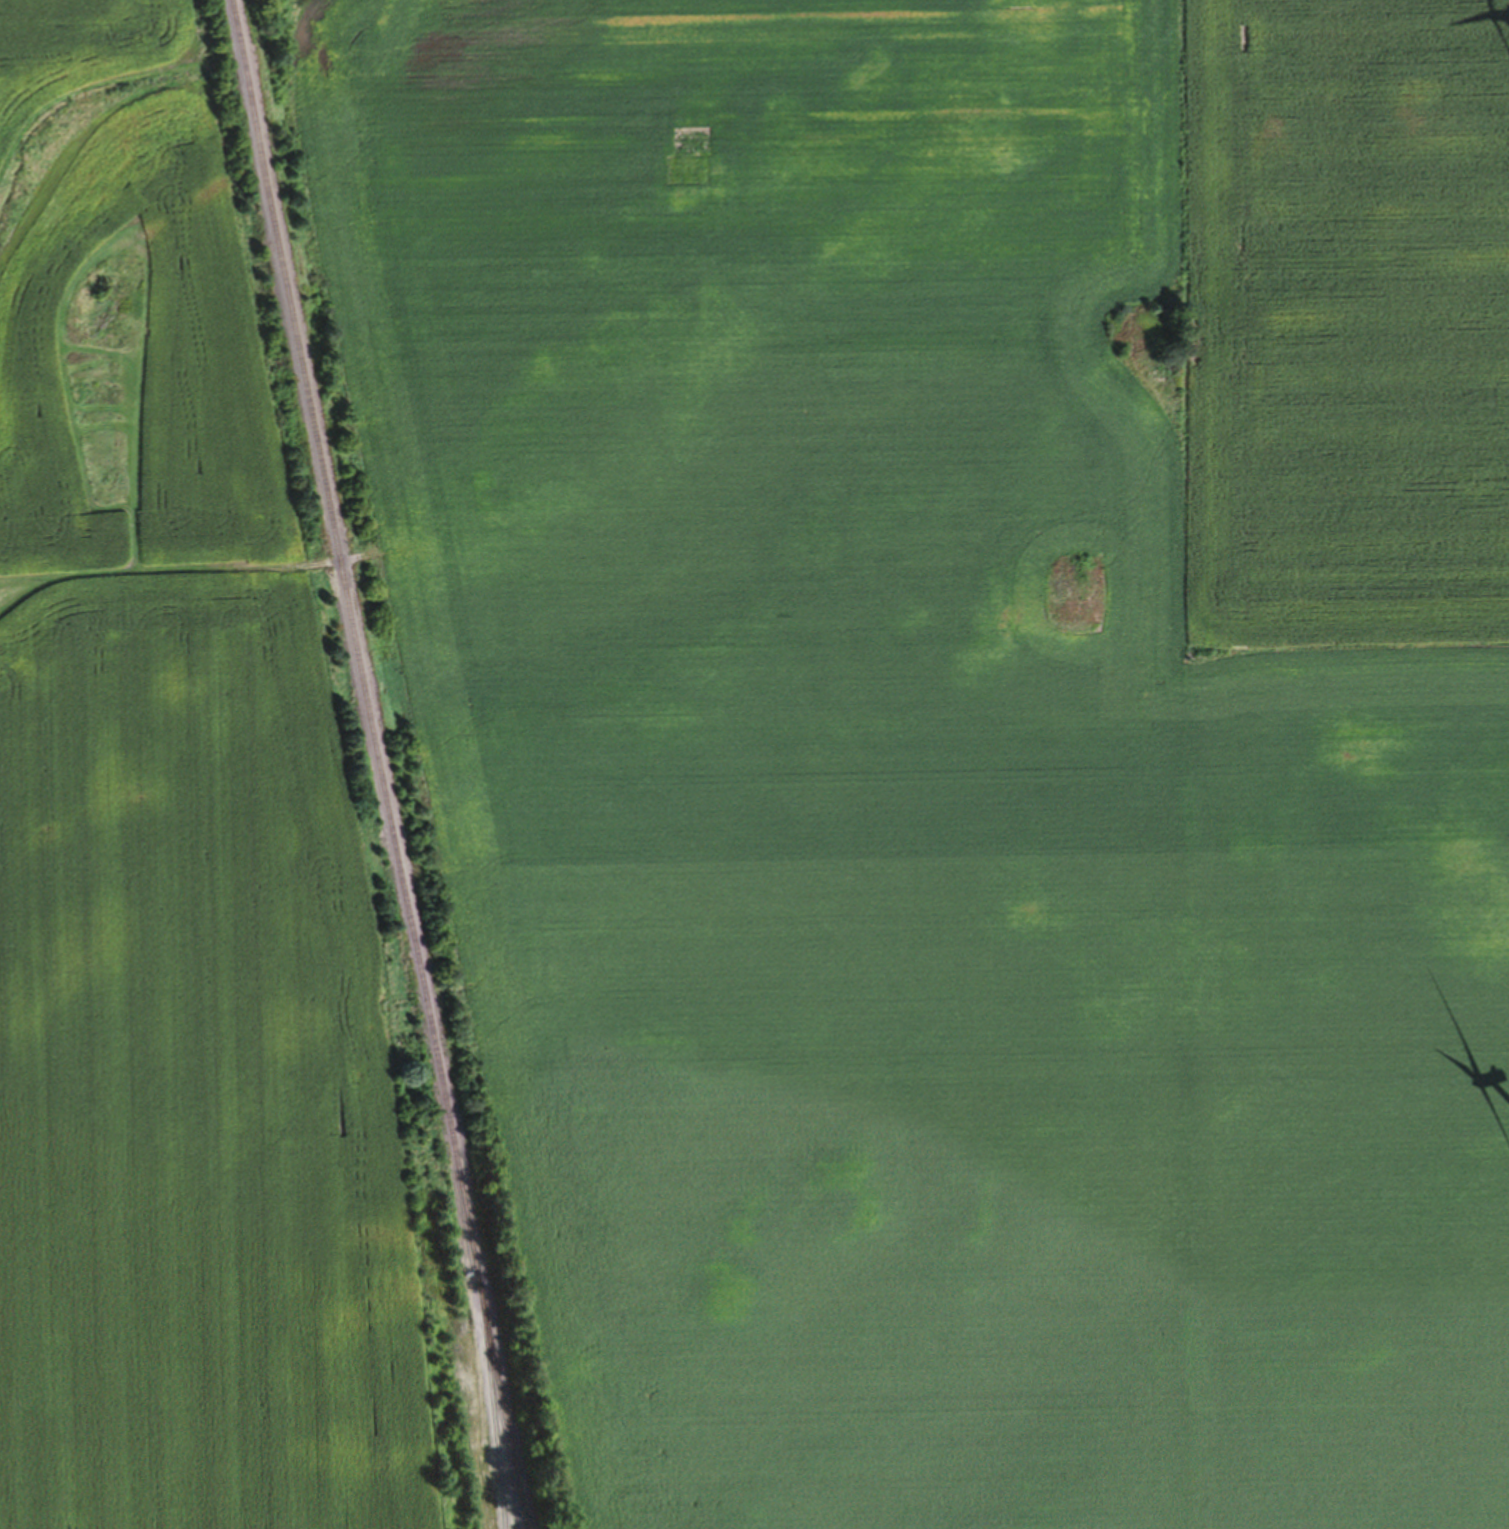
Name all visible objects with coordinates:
road: (190, 575)
railway: (373, 764)
railway: (491, 1412)

